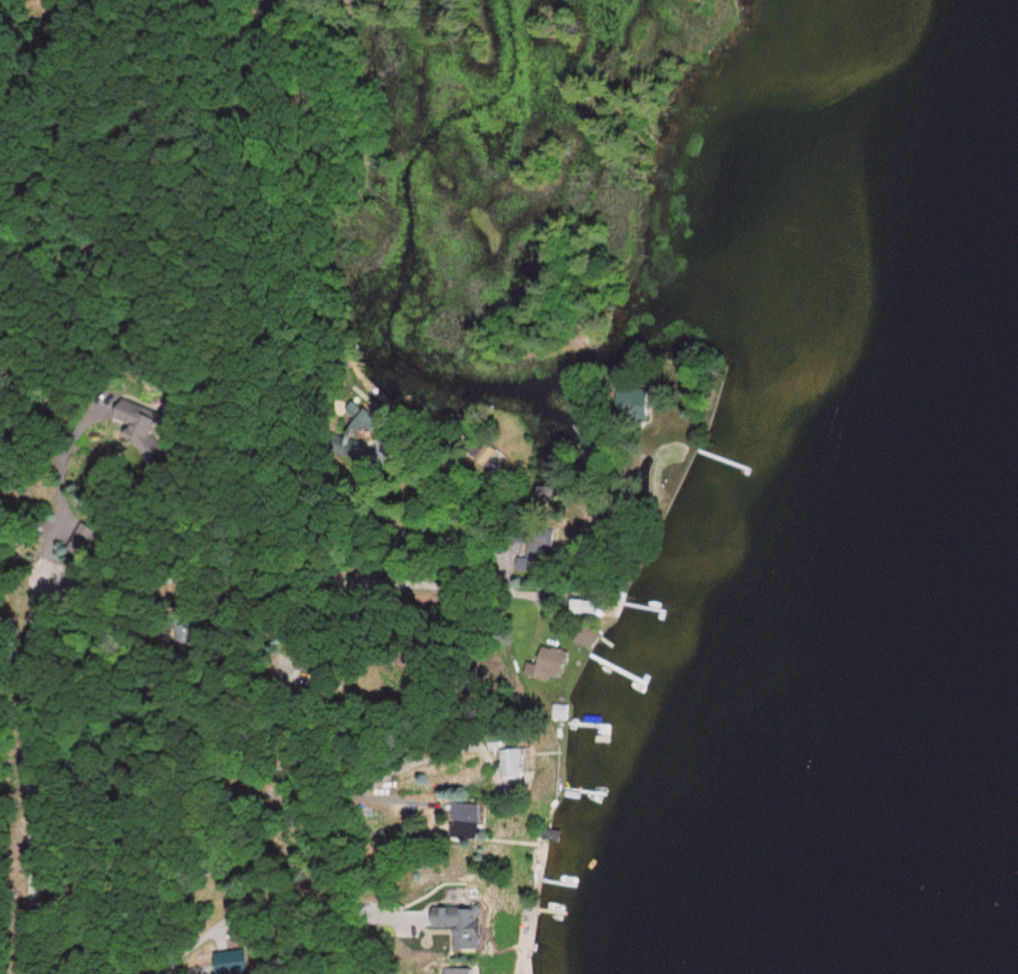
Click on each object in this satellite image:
park: (316, 192)
building: (643, 405)
building: (142, 422)
road: (569, 544)
road: (231, 585)
building: (521, 765)
road: (260, 787)
building: (484, 820)
road: (37, 847)
road: (224, 882)
building: (470, 927)
road: (291, 929)
building: (226, 963)

